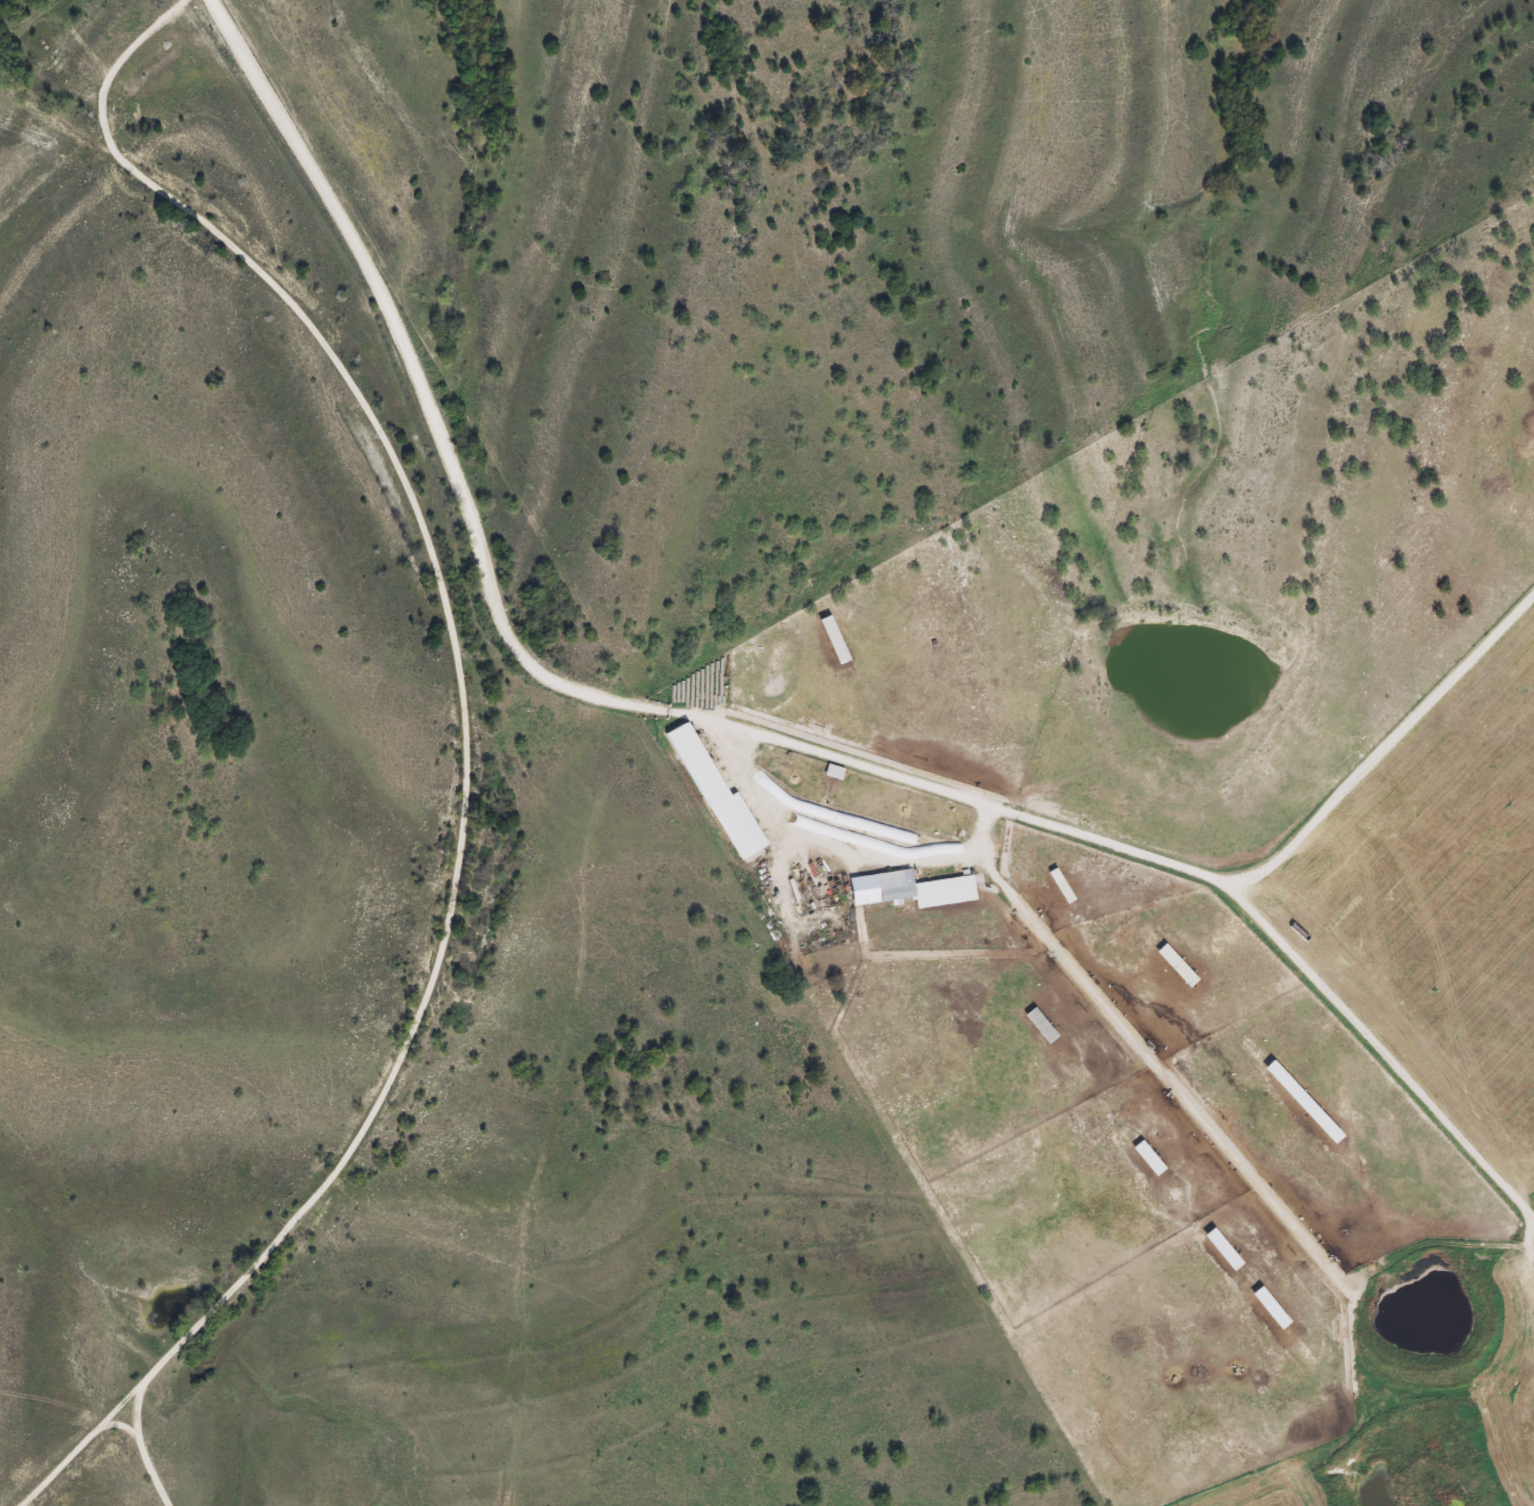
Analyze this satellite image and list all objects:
building: (834, 639)
road: (742, 731)
road: (1390, 746)
railway: (458, 774)
building: (718, 796)
building: (1057, 878)
road: (558, 1101)
building: (1302, 1101)
building: (1223, 1250)
building: (1284, 1326)

